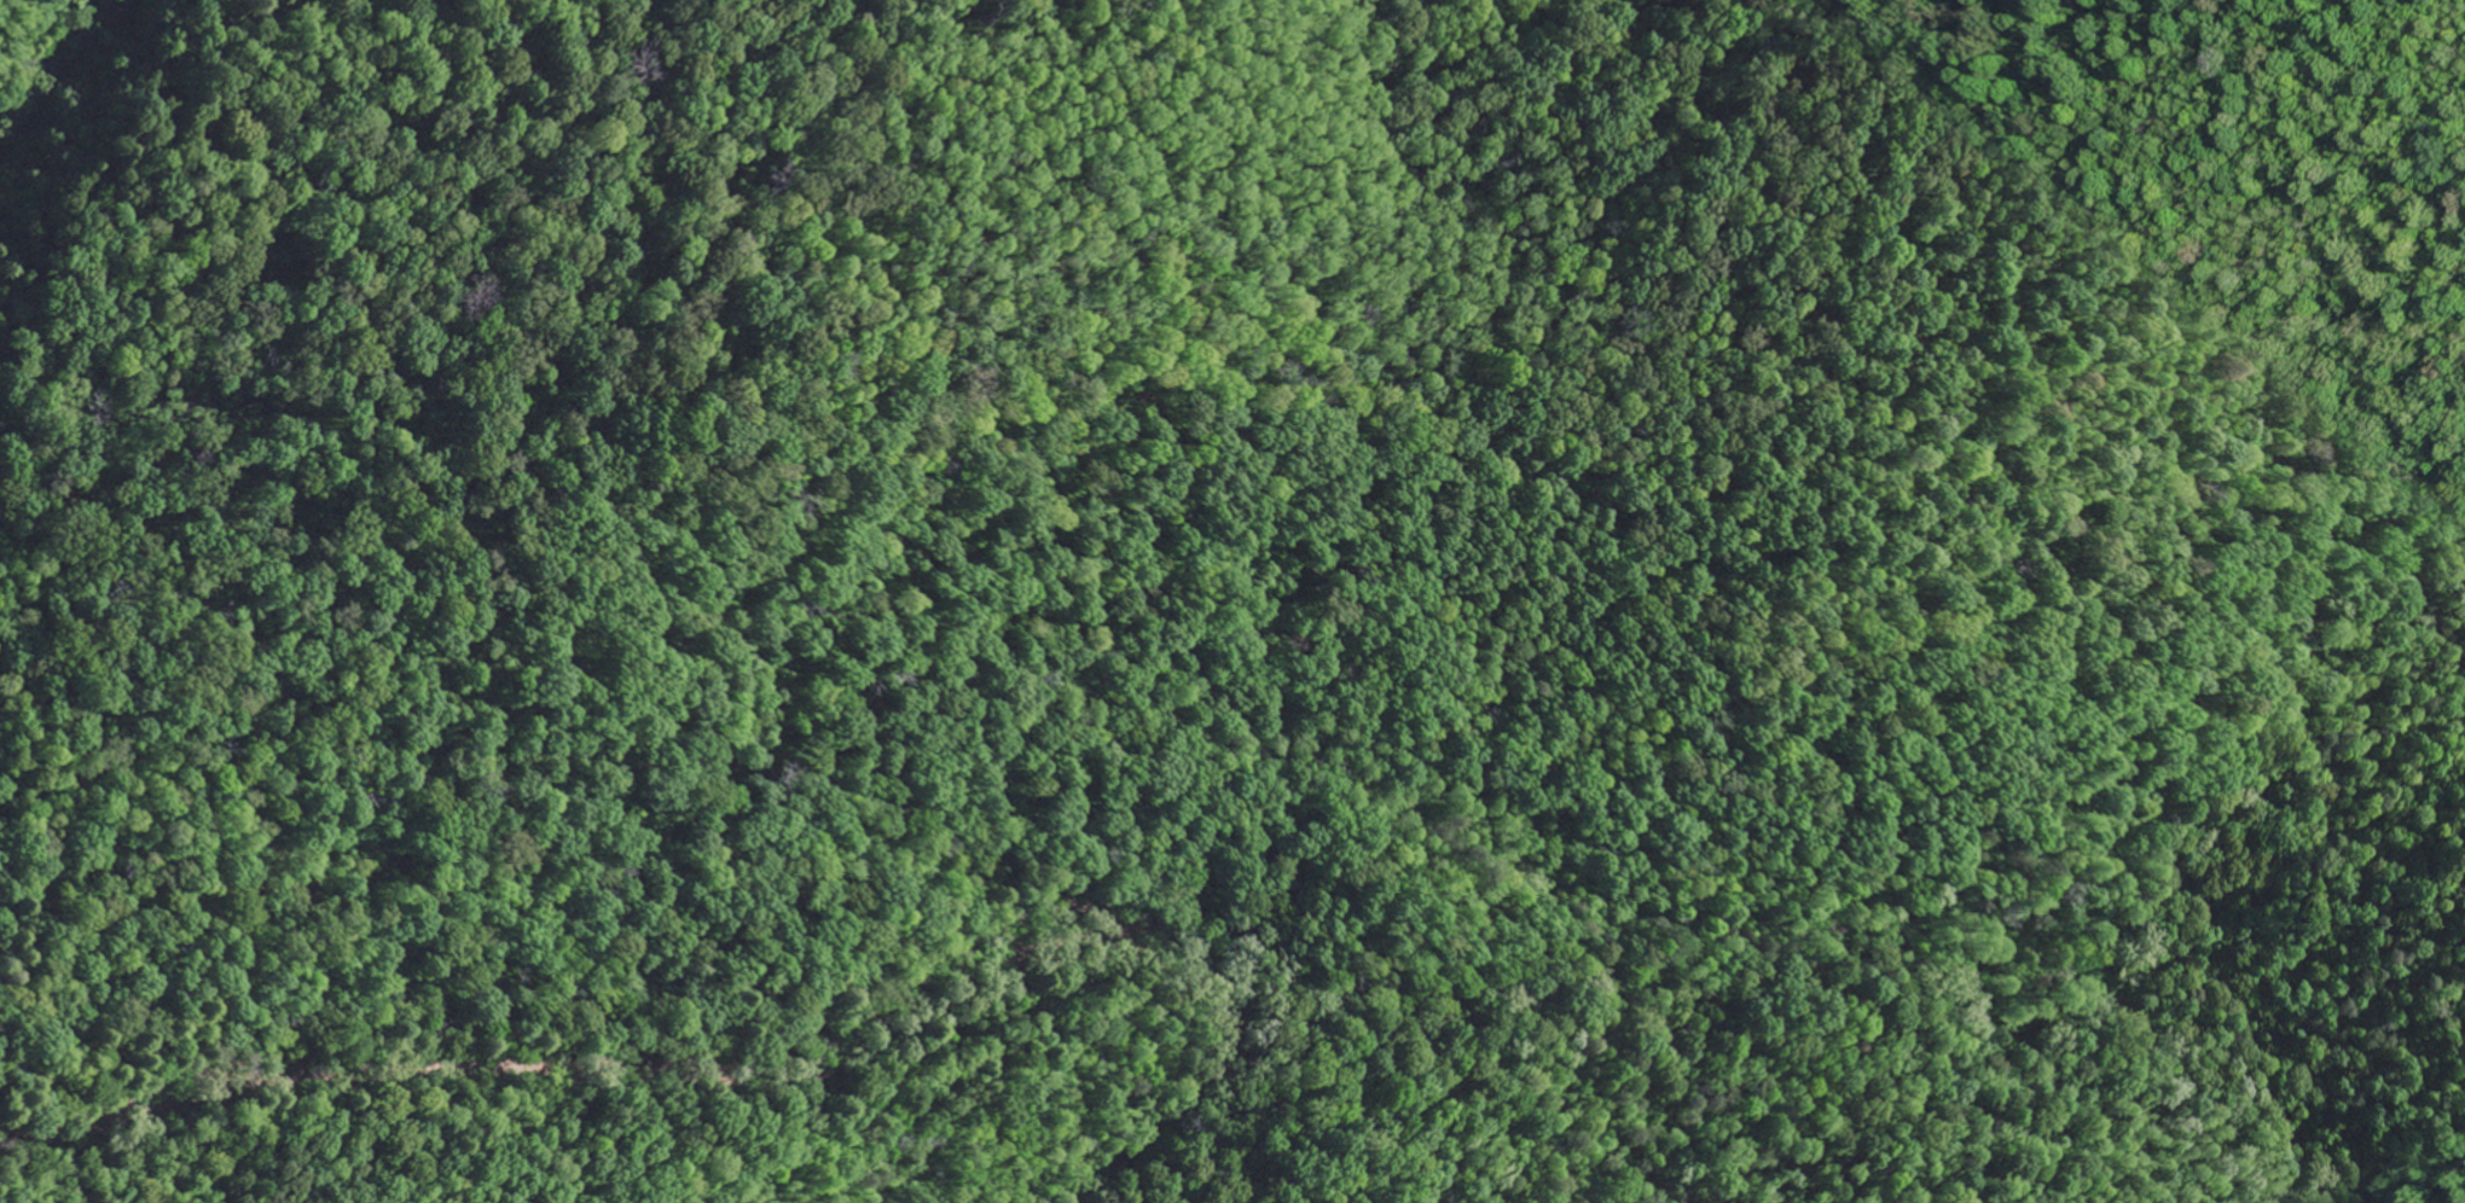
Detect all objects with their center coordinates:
road: (205, 150)
road: (109, 889)
road: (244, 1153)

